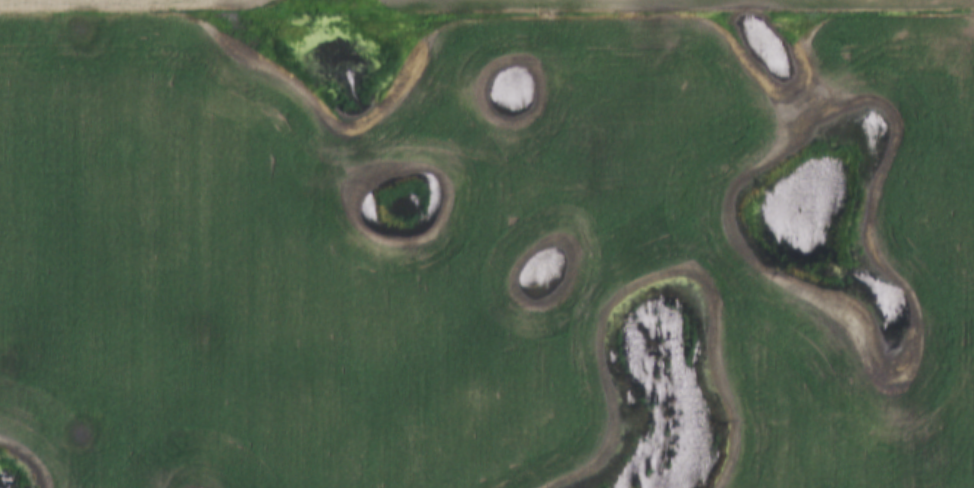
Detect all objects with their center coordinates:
road: (487, 16)

